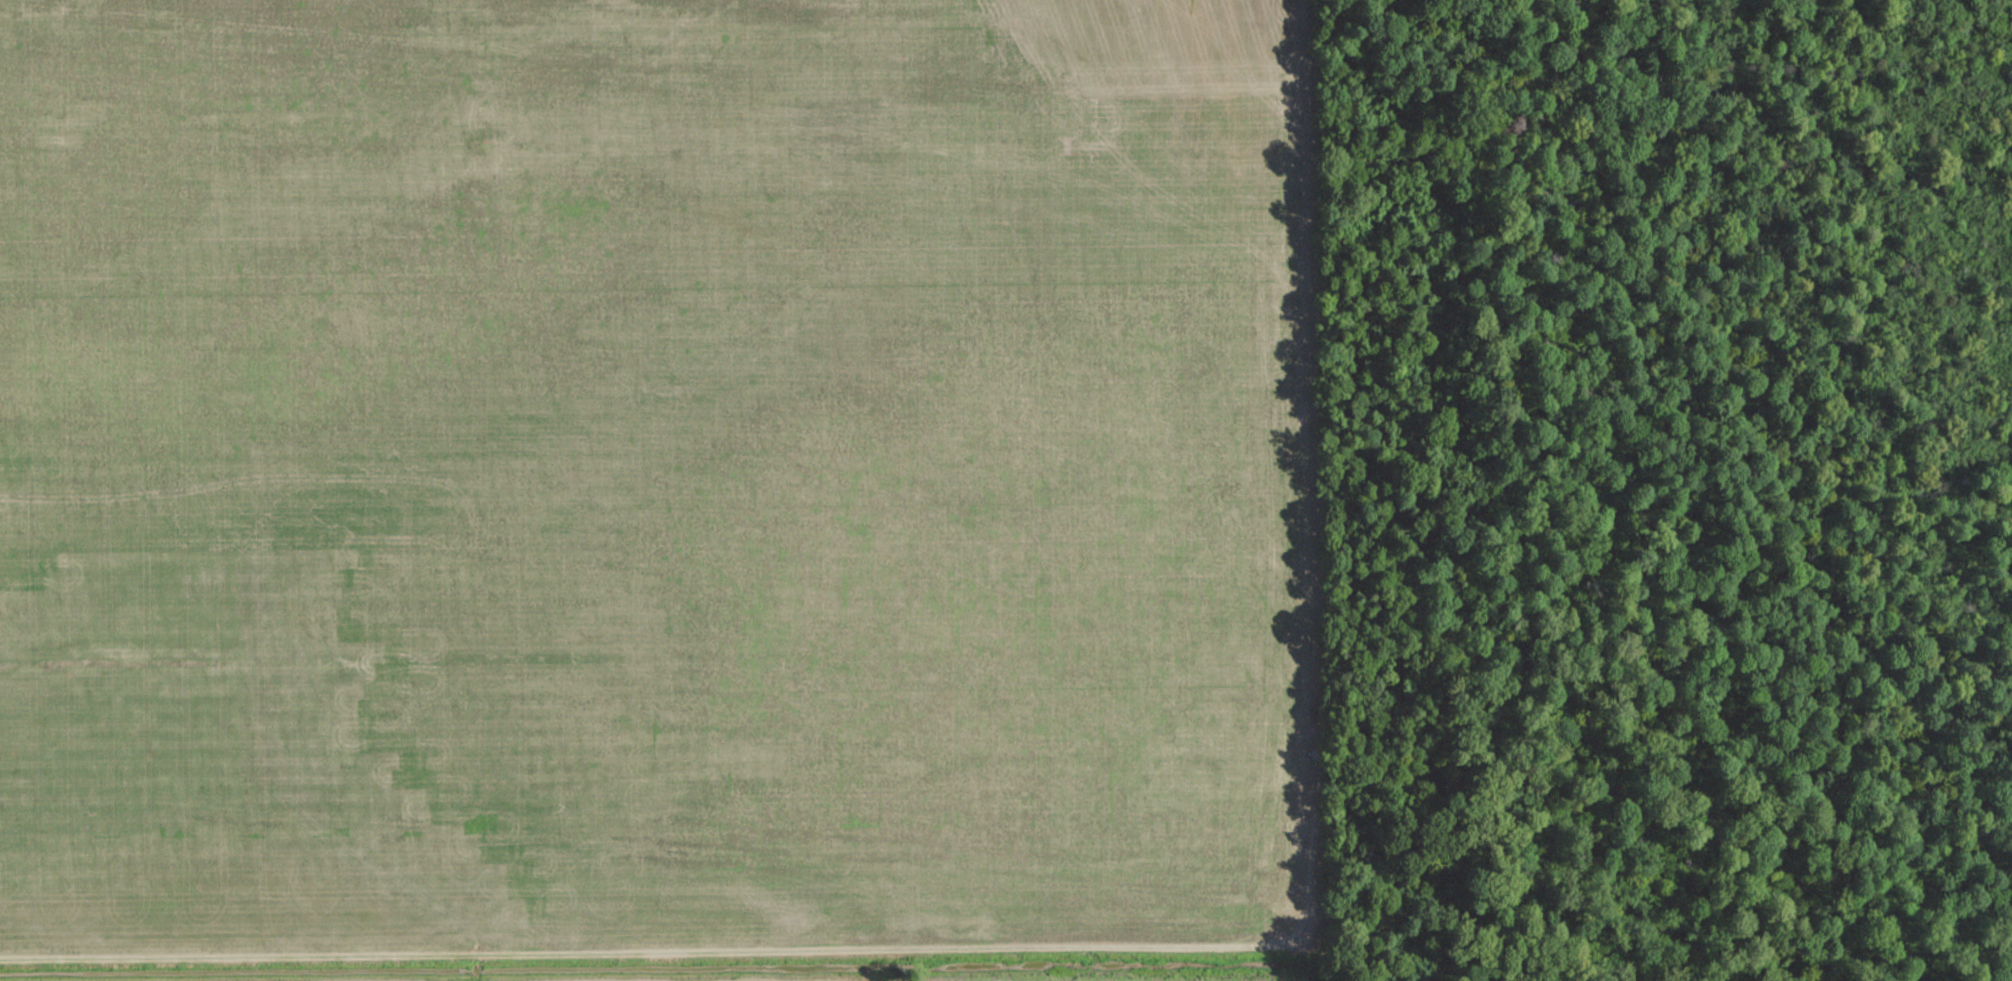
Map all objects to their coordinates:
road: (1915, 22)
park: (1673, 490)

